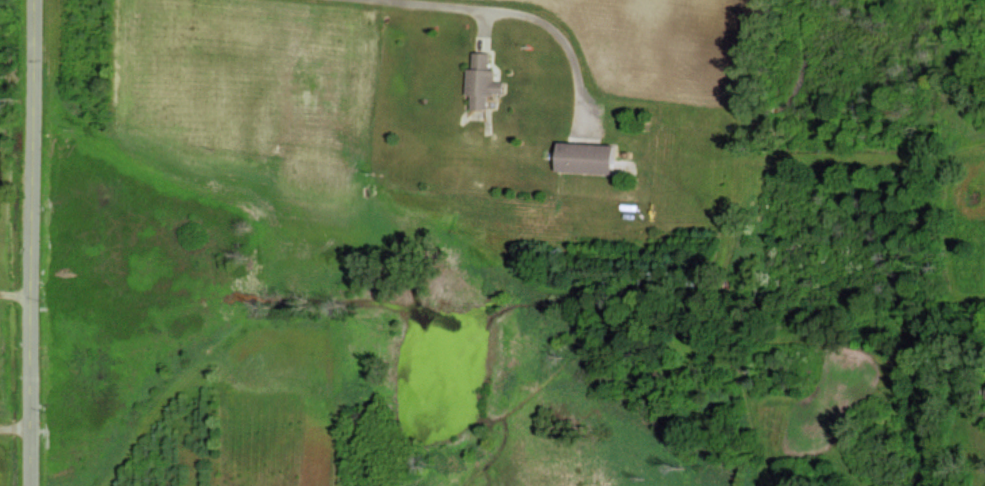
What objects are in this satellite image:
road: (523, 12)
building: (485, 81)
building: (589, 157)
road: (37, 242)
road: (18, 292)
road: (18, 425)

